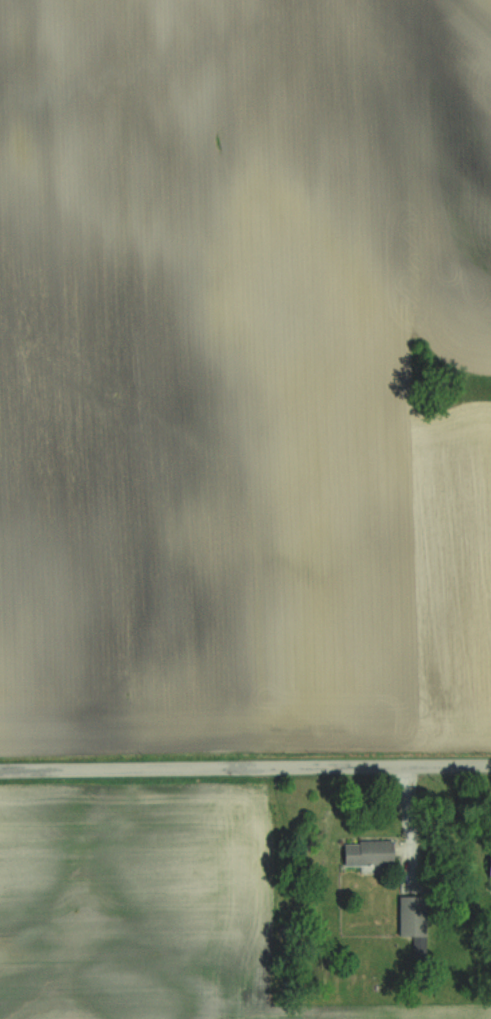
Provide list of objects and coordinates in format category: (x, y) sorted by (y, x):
road: (245, 767)
road: (409, 820)
building: (368, 852)
building: (490, 868)
building: (411, 919)

